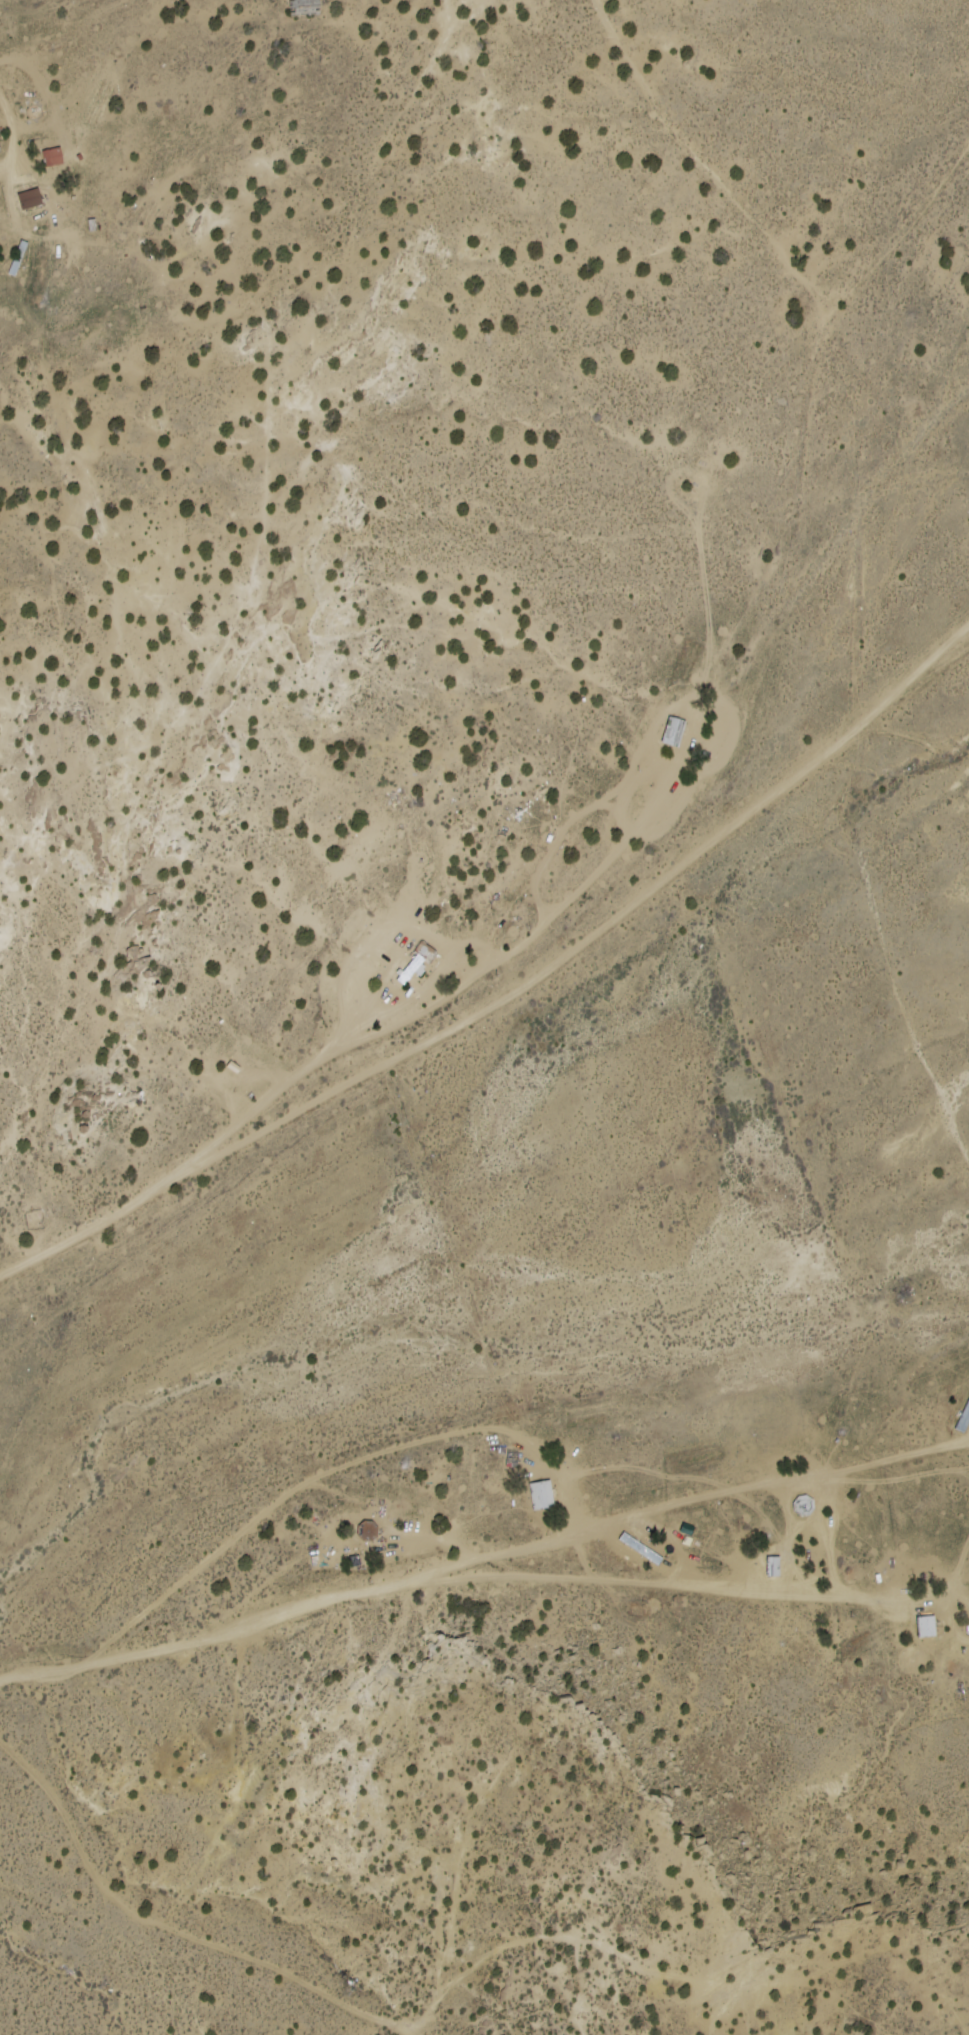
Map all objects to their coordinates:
building: (306, 8)
road: (401, 27)
road: (118, 37)
road: (852, 620)
building: (676, 733)
road: (591, 907)
building: (417, 964)
building: (961, 1422)
building: (544, 1494)
road: (484, 1561)
road: (694, 1591)
building: (928, 1625)
road: (317, 1991)

